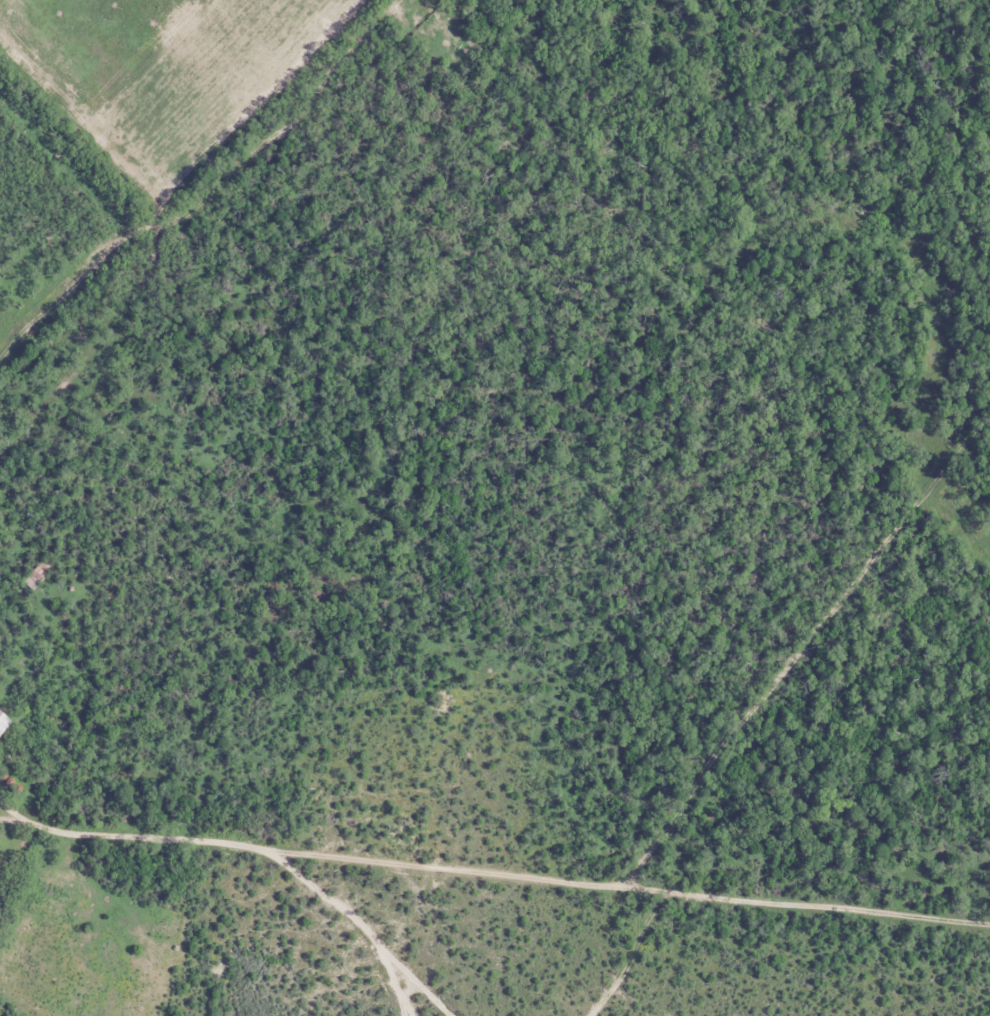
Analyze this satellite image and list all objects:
building: (0, 723)
road: (225, 860)
road: (787, 951)

